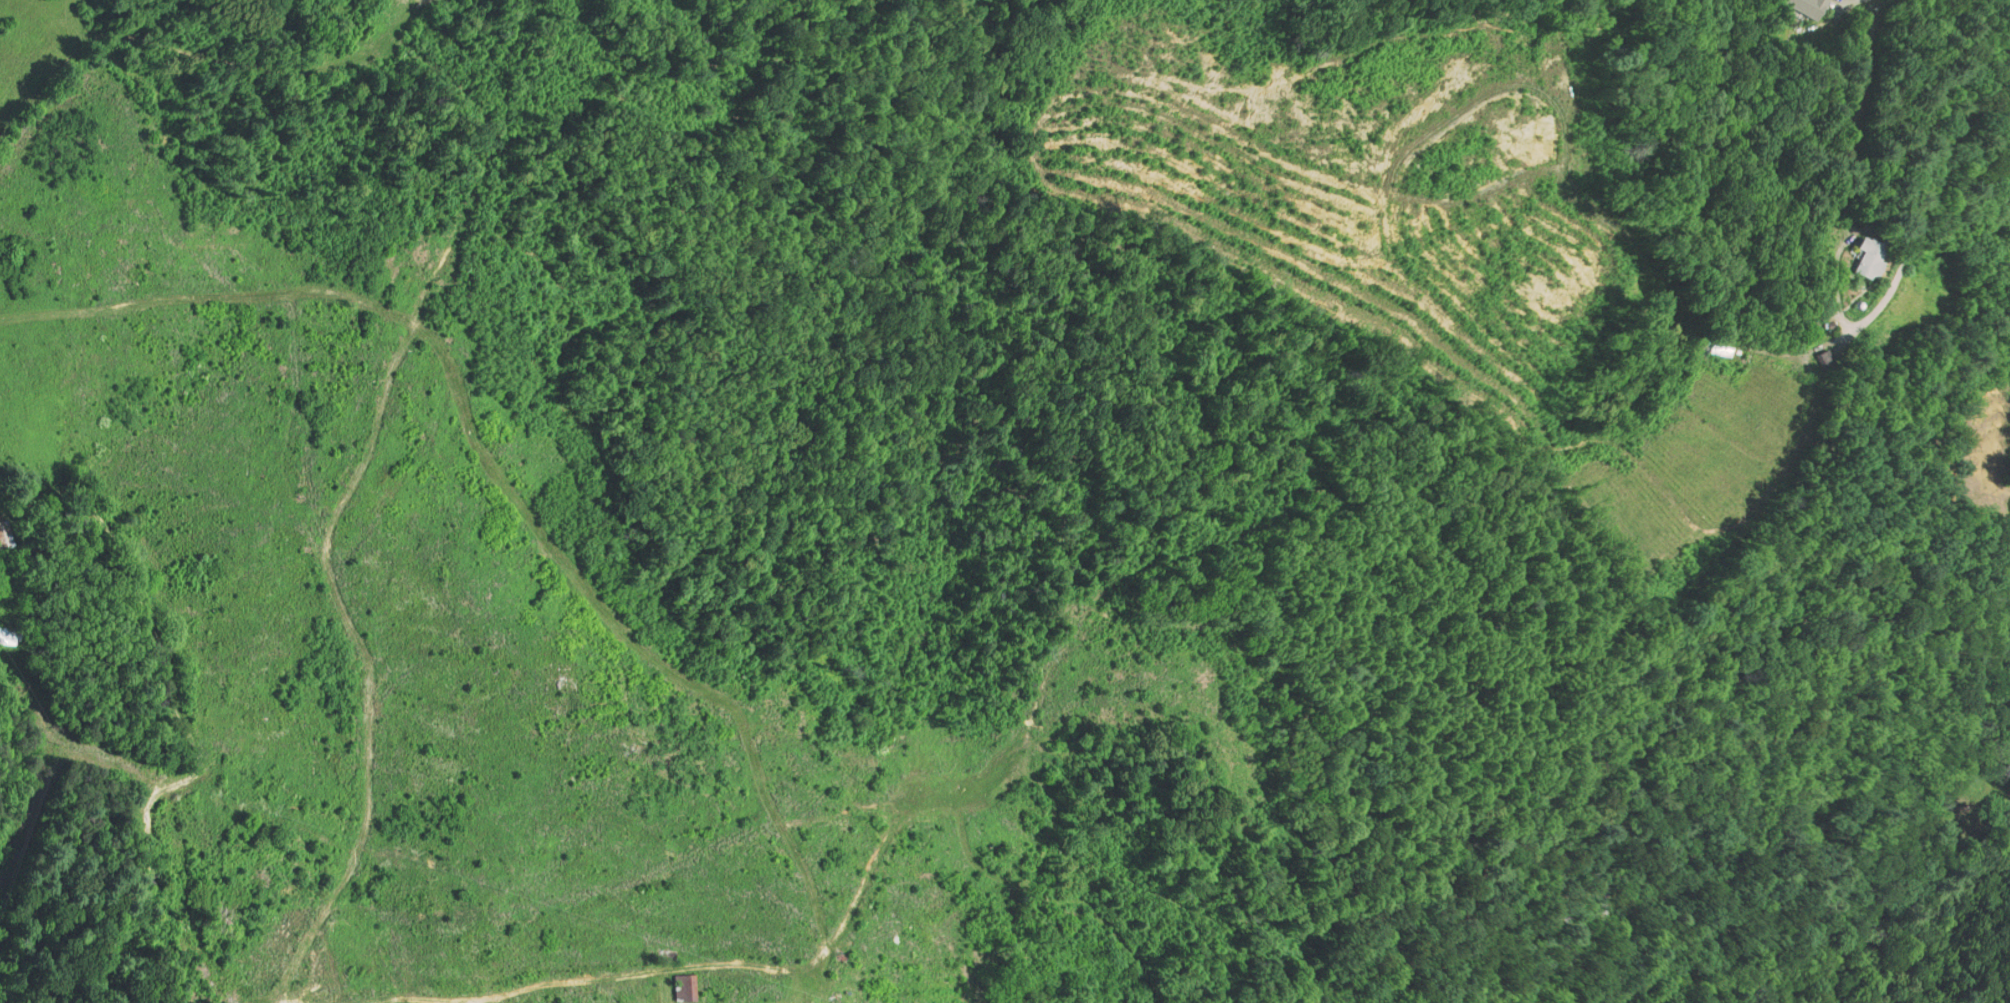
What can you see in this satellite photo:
building: (1802, 7)
road: (1280, 30)
building: (1859, 257)
building: (1820, 359)
building: (5, 533)
building: (8, 636)
road: (181, 715)

